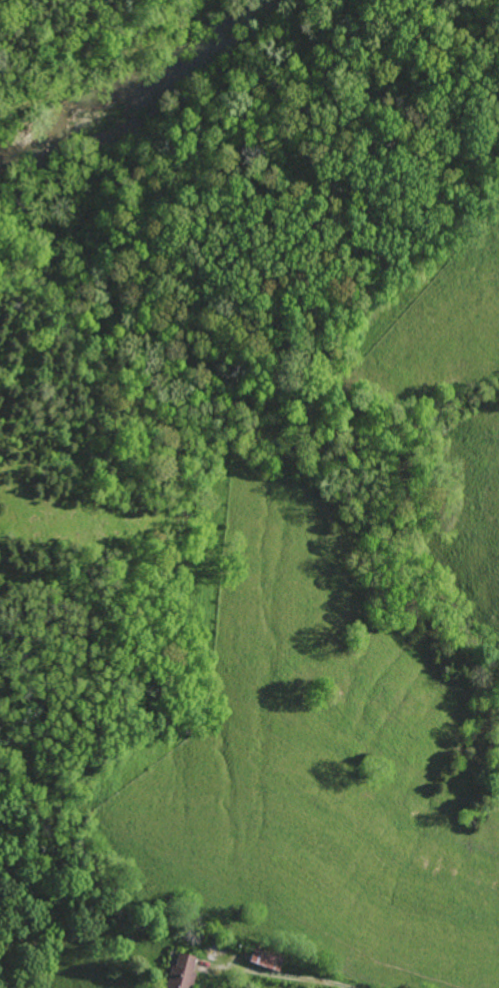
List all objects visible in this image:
building: (262, 958)
building: (178, 971)
road: (286, 978)

